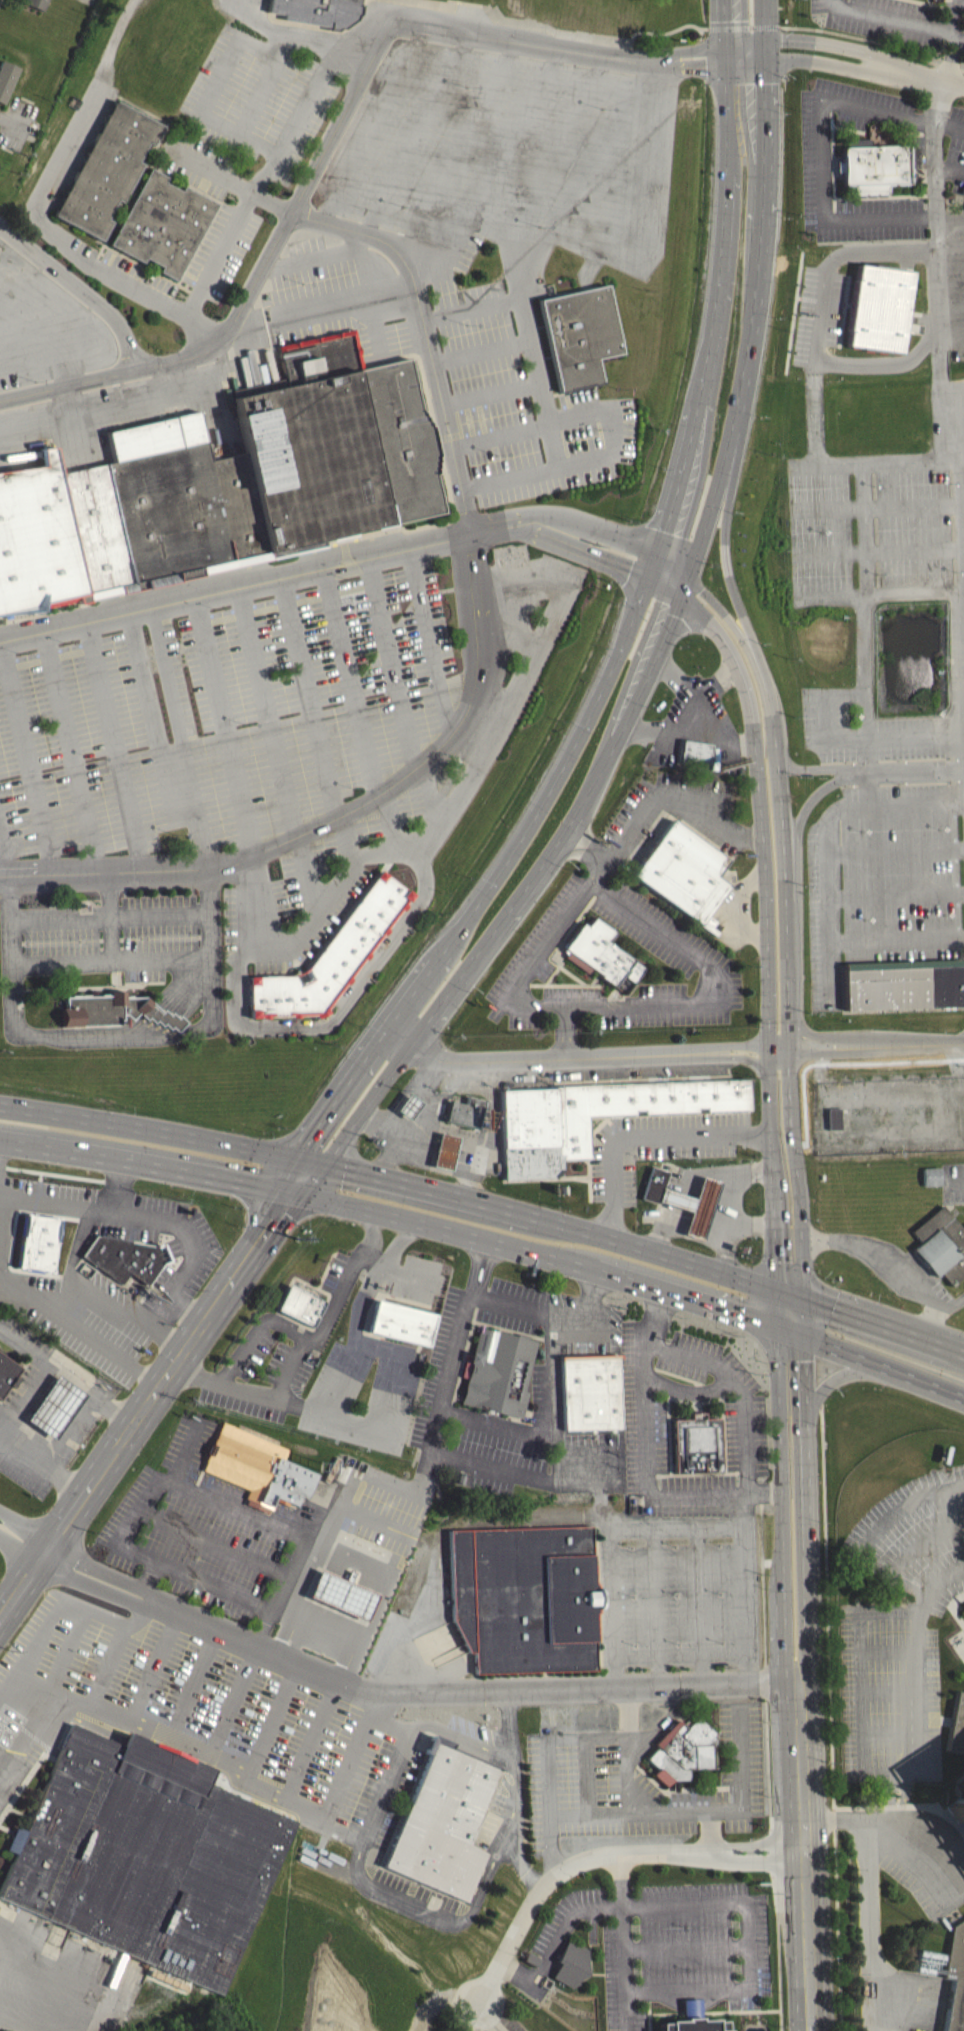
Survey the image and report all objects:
building: (75, 0)
building: (33, 4)
building: (319, 11)
road: (765, 20)
road: (719, 23)
road: (742, 26)
road: (657, 31)
road: (872, 40)
traffic signals: (764, 41)
road: (742, 44)
road: (825, 44)
traffic signals: (721, 47)
road: (689, 50)
road: (763, 50)
road: (721, 54)
traffic signals: (763, 60)
road: (742, 61)
road: (823, 62)
traffic signals: (722, 63)
street lamp: (195, 64)
road: (691, 64)
road: (923, 75)
street lamp: (688, 77)
building: (5, 79)
street lamp: (466, 86)
road: (313, 97)
street lamp: (602, 107)
street lamp: (321, 128)
parking lot: (443, 138)
road: (817, 155)
parking lot: (814, 160)
road: (317, 162)
building: (913, 162)
building: (869, 167)
building: (107, 168)
street lamp: (402, 206)
building: (163, 222)
street lamp: (539, 226)
road: (936, 241)
road: (760, 243)
road: (226, 250)
road: (513, 253)
street lamp: (303, 282)
road: (79, 287)
road: (472, 306)
building: (877, 306)
road: (718, 313)
parking lot: (818, 315)
street lamp: (465, 323)
road: (819, 324)
building: (580, 334)
street lamp: (166, 350)
road: (481, 350)
building: (320, 355)
street lamp: (34, 380)
road: (489, 391)
parking lot: (521, 405)
road: (612, 427)
street lamp: (600, 429)
street lamp: (495, 453)
building: (336, 454)
road: (911, 459)
road: (961, 485)
road: (875, 504)
building: (160, 508)
road: (708, 509)
road: (594, 529)
building: (36, 539)
road: (864, 539)
street lamp: (493, 545)
road: (876, 547)
road: (587, 551)
traffic signals: (657, 556)
road: (725, 559)
road: (653, 565)
traffic signals: (650, 575)
street lamp: (347, 577)
traffic signals: (687, 577)
road: (263, 579)
road: (664, 584)
road: (877, 591)
traffic signals: (679, 594)
street lamp: (220, 607)
road: (722, 612)
road: (687, 626)
street lamp: (64, 640)
road: (428, 642)
road: (391, 660)
road: (477, 677)
road: (715, 679)
road: (346, 682)
street lamp: (417, 684)
road: (307, 696)
parking lot: (885, 700)
road: (696, 710)
road: (267, 711)
parking lot: (231, 712)
street lamp: (246, 722)
road: (153, 726)
road: (222, 726)
road: (659, 728)
road: (824, 729)
parking lot: (696, 731)
road: (915, 734)
road: (179, 736)
road: (113, 744)
road: (70, 750)
building: (694, 751)
road: (26, 755)
street lamp: (95, 757)
road: (817, 766)
road: (910, 768)
street lamp: (357, 789)
road: (670, 798)
road: (758, 798)
road: (806, 804)
road: (832, 811)
parking lot: (675, 815)
road: (389, 816)
street lamp: (173, 833)
road: (345, 843)
road: (427, 845)
road: (894, 848)
road: (587, 849)
road: (780, 849)
road: (4, 853)
street lamp: (330, 873)
building: (682, 873)
road: (305, 878)
road: (493, 879)
parking lot: (314, 885)
road: (524, 892)
road: (895, 893)
road: (332, 894)
road: (734, 909)
road: (130, 913)
building: (707, 927)
parking lot: (113, 931)
parking lot: (658, 931)
street lamp: (198, 935)
street lamp: (141, 937)
road: (862, 939)
street lamp: (79, 940)
building: (603, 954)
building: (333, 955)
road: (183, 957)
parking lot: (537, 957)
road: (61, 961)
road: (533, 963)
building: (905, 982)
road: (181, 986)
parking lot: (572, 994)
road: (708, 995)
parking lot: (674, 1004)
building: (113, 1009)
road: (146, 1023)
road: (820, 1032)
road: (769, 1035)
road: (113, 1037)
road: (911, 1043)
road: (738, 1044)
road: (850, 1048)
road: (815, 1052)
road: (743, 1057)
road: (543, 1058)
road: (788, 1066)
gas station: (407, 1105)
building: (406, 1110)
building: (464, 1111)
building: (833, 1123)
road: (146, 1131)
building: (544, 1135)
road: (645, 1138)
traffic signals: (303, 1144)
parking lot: (659, 1146)
gas station: (444, 1150)
building: (443, 1155)
road: (308, 1161)
traffic signals: (344, 1169)
road: (727, 1170)
building: (930, 1180)
parking lot: (953, 1181)
building: (653, 1183)
road: (953, 1183)
road: (277, 1185)
traffic signals: (255, 1187)
road: (301, 1194)
parking lot: (45, 1197)
road: (50, 1198)
building: (693, 1204)
gas station: (693, 1204)
traffic signals: (283, 1208)
road: (800, 1208)
road: (406, 1217)
road: (724, 1219)
road: (564, 1225)
road: (187, 1239)
building: (940, 1244)
parking lot: (167, 1246)
building: (35, 1248)
building: (123, 1256)
road: (892, 1260)
road: (70, 1264)
road: (385, 1267)
parking lot: (382, 1275)
road: (345, 1282)
traffic signals: (777, 1289)
traffic signals: (803, 1297)
road: (363, 1298)
building: (299, 1304)
road: (125, 1309)
road: (589, 1316)
traffic signals: (778, 1320)
building: (401, 1321)
parking lot: (104, 1323)
road: (280, 1326)
road: (931, 1327)
road: (883, 1328)
traffic signals: (804, 1331)
road: (551, 1338)
road: (99, 1344)
parking lot: (569, 1348)
road: (778, 1361)
road: (883, 1364)
building: (7, 1370)
parking lot: (441, 1370)
building: (498, 1372)
road: (160, 1382)
parking lot: (319, 1382)
road: (736, 1387)
building: (590, 1390)
building: (54, 1404)
gas station: (54, 1404)
parking lot: (662, 1415)
road: (377, 1427)
road: (508, 1430)
road: (67, 1432)
building: (695, 1443)
road: (189, 1449)
road: (589, 1449)
road: (22, 1452)
road: (646, 1455)
building: (258, 1467)
road: (391, 1479)
road: (150, 1493)
road: (961, 1499)
road: (347, 1505)
parking lot: (387, 1507)
parking lot: (194, 1529)
road: (25, 1532)
road: (871, 1533)
road: (609, 1537)
road: (213, 1541)
road: (922, 1541)
road: (19, 1551)
road: (284, 1576)
parking lot: (681, 1579)
road: (939, 1582)
road: (25, 1585)
road: (213, 1585)
road: (750, 1586)
building: (342, 1593)
gas station: (342, 1593)
building: (523, 1602)
road: (701, 1605)
road: (655, 1606)
road: (139, 1615)
road: (48, 1621)
parking lot: (901, 1629)
road: (888, 1650)
road: (107, 1664)
road: (810, 1664)
road: (154, 1666)
road: (58, 1670)
road: (798, 1679)
road: (32, 1680)
road: (862, 1680)
road: (194, 1683)
road: (887, 1691)
road: (402, 1694)
road: (231, 1699)
road: (74, 1701)
road: (19, 1710)
road: (912, 1712)
road: (109, 1713)
parking lot: (200, 1715)
road: (269, 1718)
road: (507, 1724)
building: (957, 1725)
road: (150, 1728)
road: (887, 1732)
road: (310, 1740)
road: (627, 1749)
road: (19, 1751)
building: (682, 1756)
road: (547, 1765)
road: (586, 1775)
parking lot: (636, 1783)
road: (383, 1790)
building: (955, 1791)
road: (305, 1809)
road: (695, 1810)
road: (883, 1817)
building: (440, 1826)
road: (709, 1831)
parking lot: (922, 1852)
road: (609, 1853)
road: (789, 1855)
road: (490, 1858)
building: (144, 1860)
road: (518, 1864)
parking lot: (413, 1899)
road: (702, 1902)
road: (870, 1924)
road: (622, 1941)
parking lot: (670, 1945)
road: (685, 1946)
road: (49, 1950)
road: (778, 1953)
building: (570, 1962)
building: (956, 1979)
parking lot: (913, 2000)
road: (488, 2016)
building: (691, 2024)

